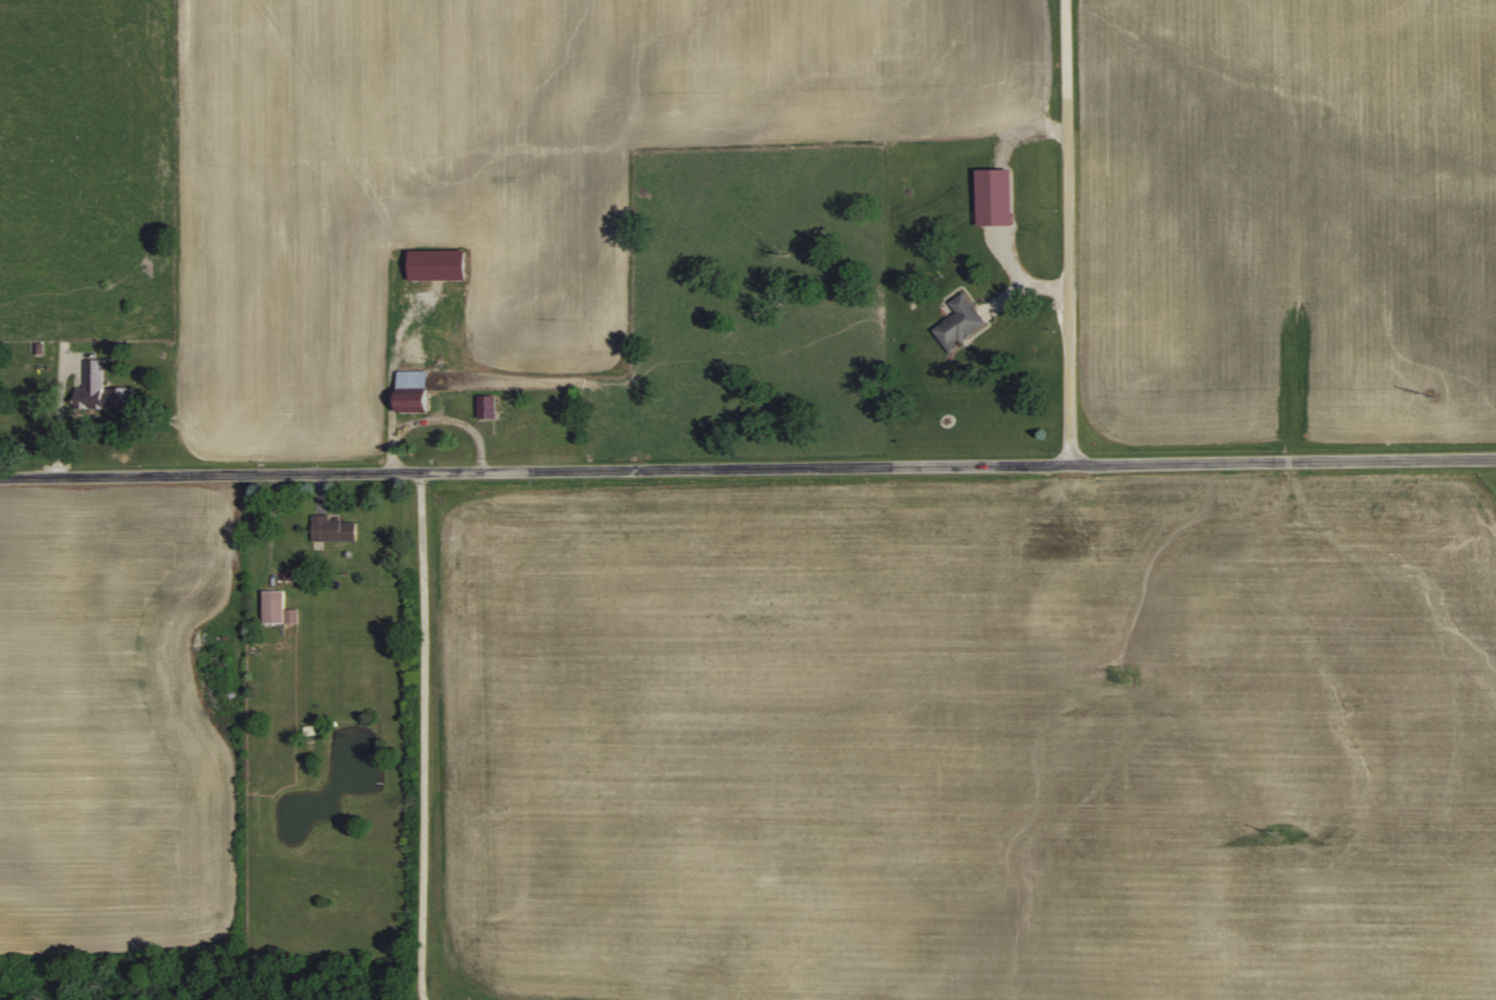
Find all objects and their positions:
building: (995, 196)
road: (1073, 232)
building: (960, 322)
building: (99, 386)
building: (419, 390)
power tower: (1437, 391)
building: (491, 406)
road: (442, 414)
road: (748, 466)
building: (336, 528)
building: (278, 606)
road: (428, 734)
power tower: (1281, 836)

